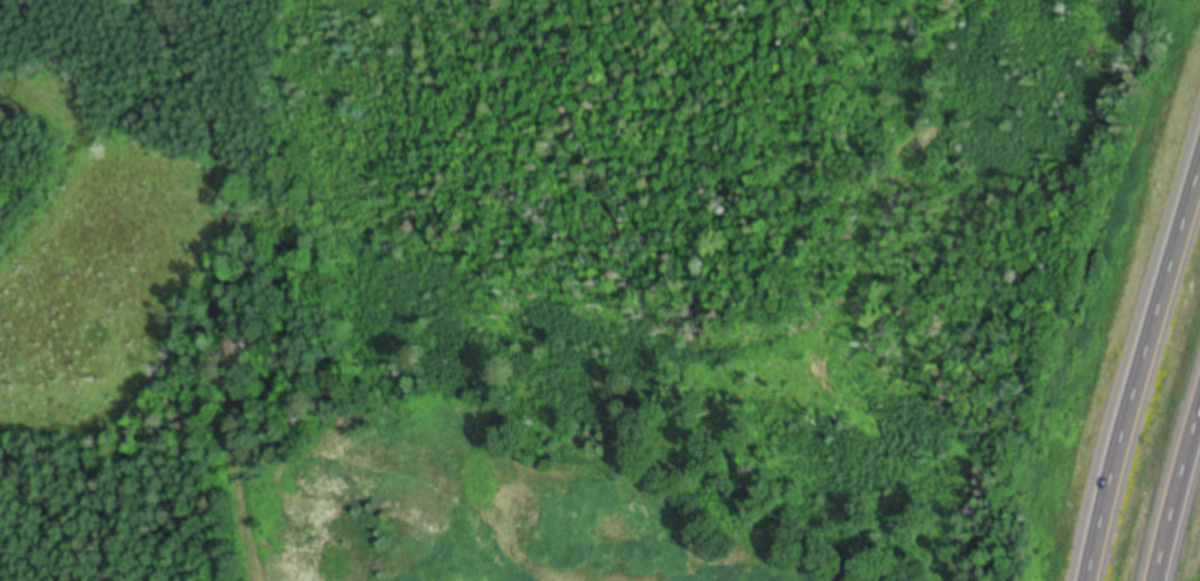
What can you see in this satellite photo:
road: (1136, 365)
road: (1176, 495)

